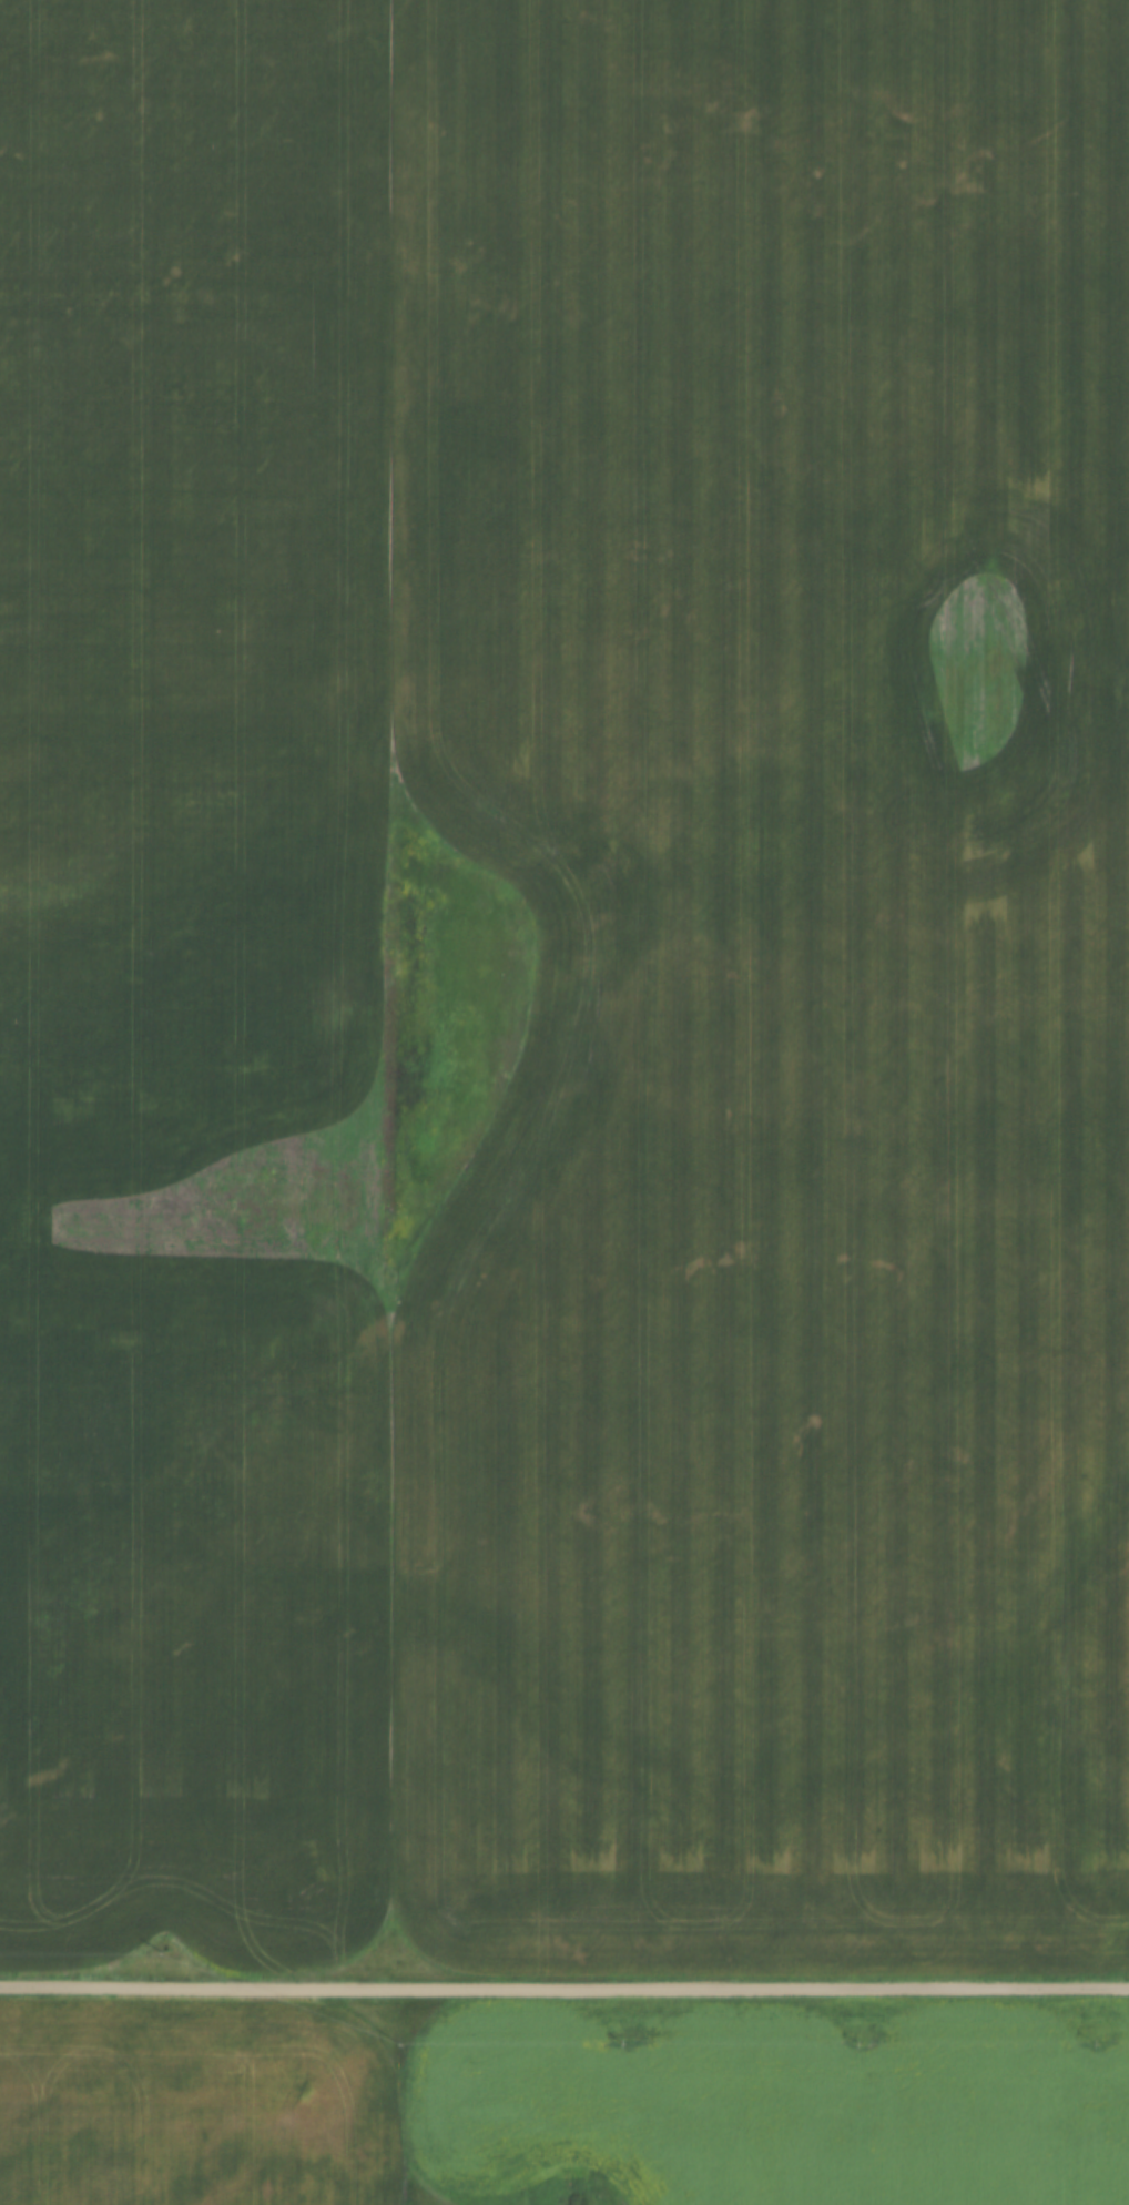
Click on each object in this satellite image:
road: (564, 1981)

